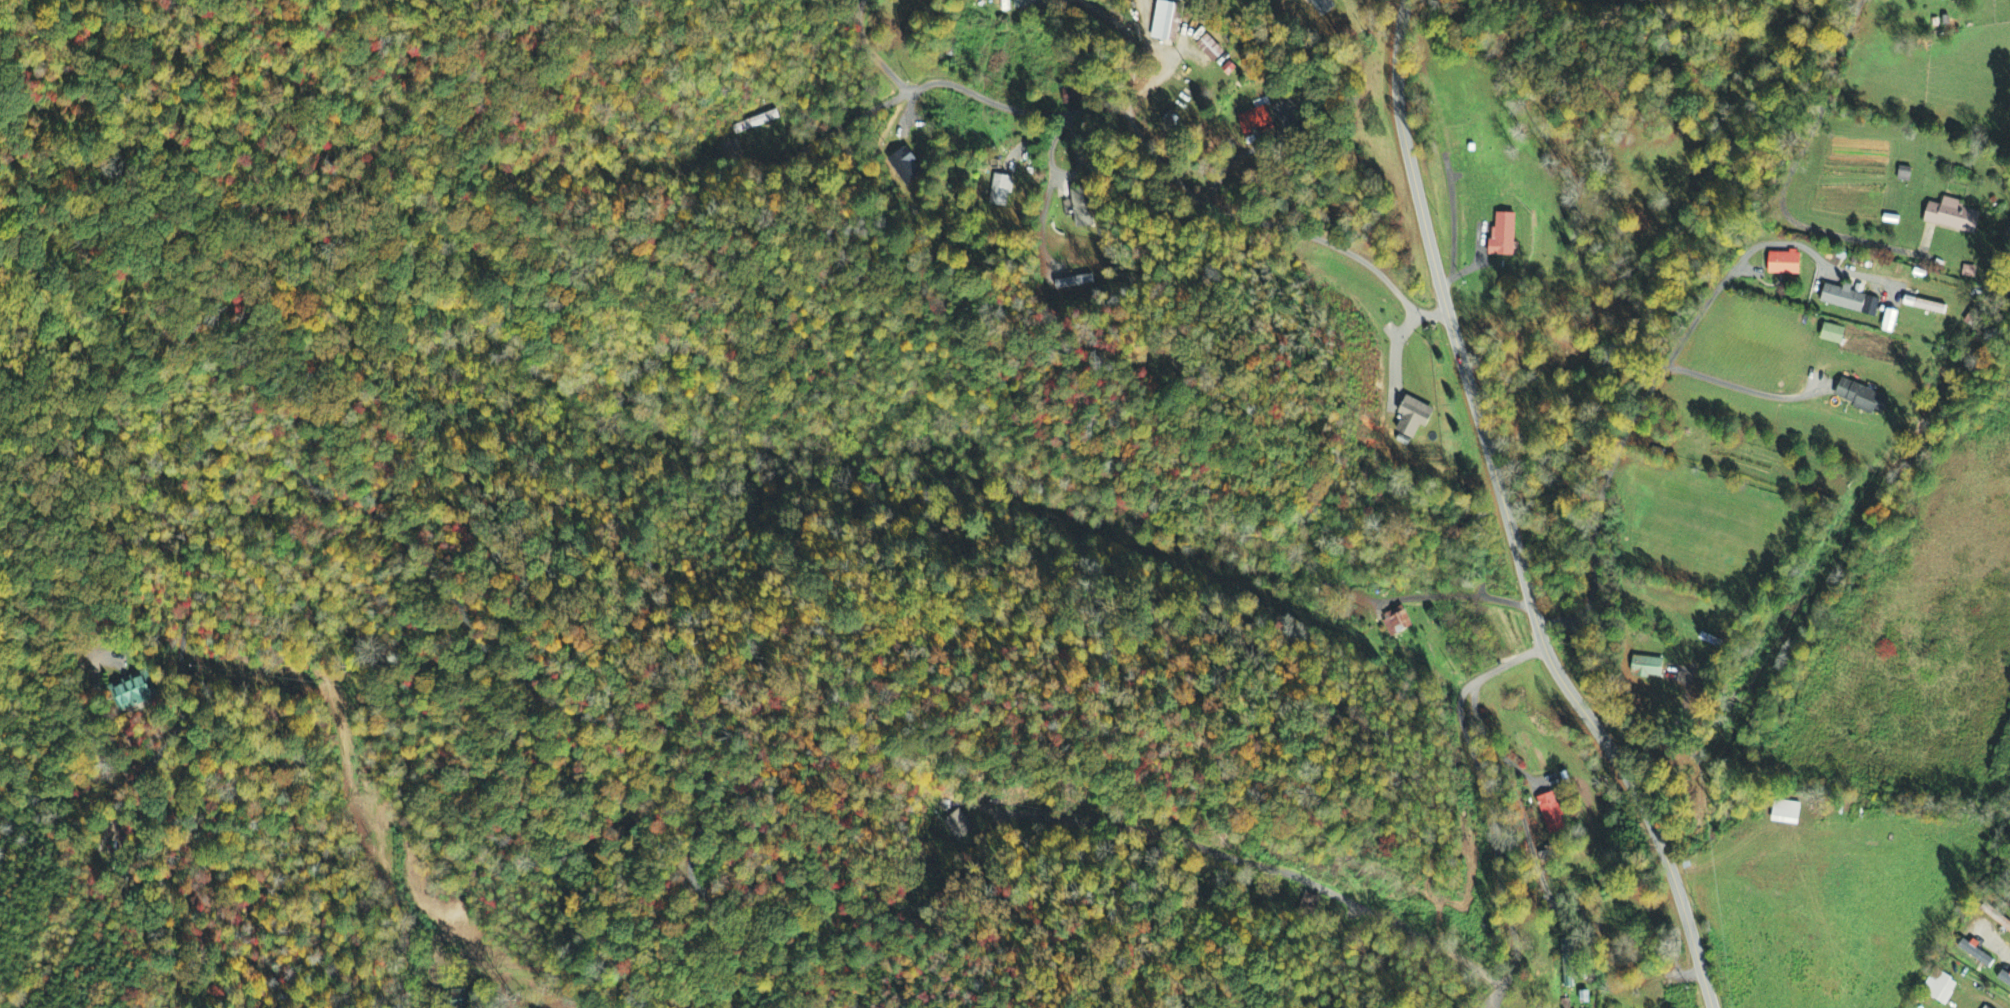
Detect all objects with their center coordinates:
building: (1180, 0)
building: (1033, 4)
building: (1322, 7)
road: (1389, 9)
building: (1163, 21)
road: (1130, 44)
building: (1210, 49)
road: (870, 51)
building: (1228, 69)
building: (1072, 95)
road: (908, 108)
building: (1256, 121)
road: (819, 139)
building: (905, 167)
building: (1905, 174)
road: (1786, 181)
road: (1178, 185)
building: (1000, 191)
building: (1082, 207)
building: (1954, 213)
road: (1451, 223)
building: (1504, 235)
building: (1785, 260)
building: (1969, 272)
building: (1073, 283)
building: (1845, 295)
building: (1926, 303)
building: (1891, 319)
building: (1833, 331)
road: (1665, 363)
road: (1742, 387)
building: (1864, 396)
building: (1414, 417)
road: (1506, 519)
road: (1451, 595)
building: (1396, 622)
road: (1595, 648)
building: (1648, 668)
building: (133, 693)
road: (1490, 806)
building: (1551, 814)
building: (1786, 814)
building: (957, 826)
road: (1263, 865)
road: (1994, 944)
building: (1977, 954)
building: (1568, 963)
building: (2004, 979)
building: (1940, 989)
building: (1987, 1007)

